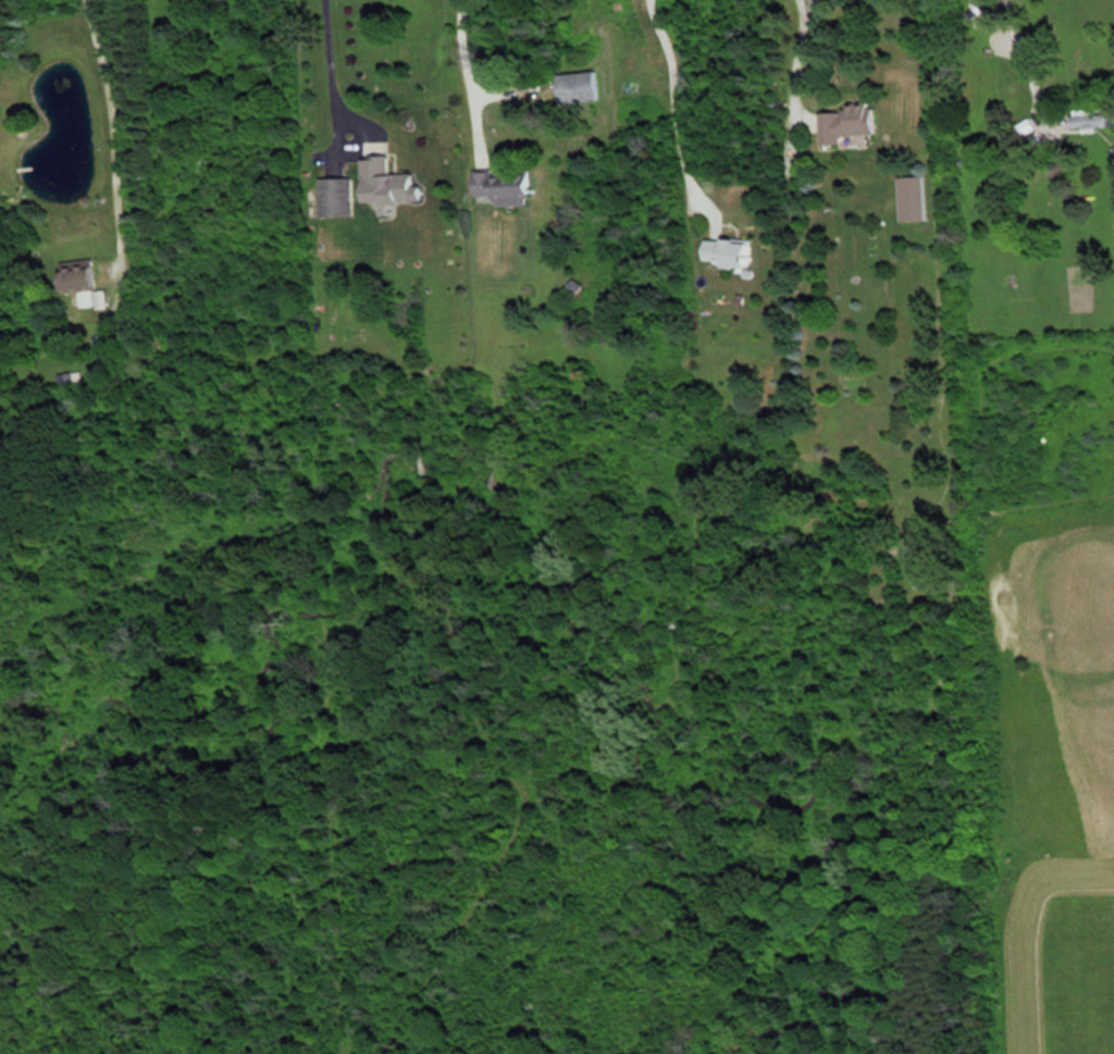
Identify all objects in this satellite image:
building: (985, 24)
road: (466, 76)
building: (581, 87)
building: (1092, 119)
building: (851, 122)
building: (394, 183)
building: (507, 187)
building: (338, 196)
building: (914, 198)
building: (734, 251)
building: (84, 282)

